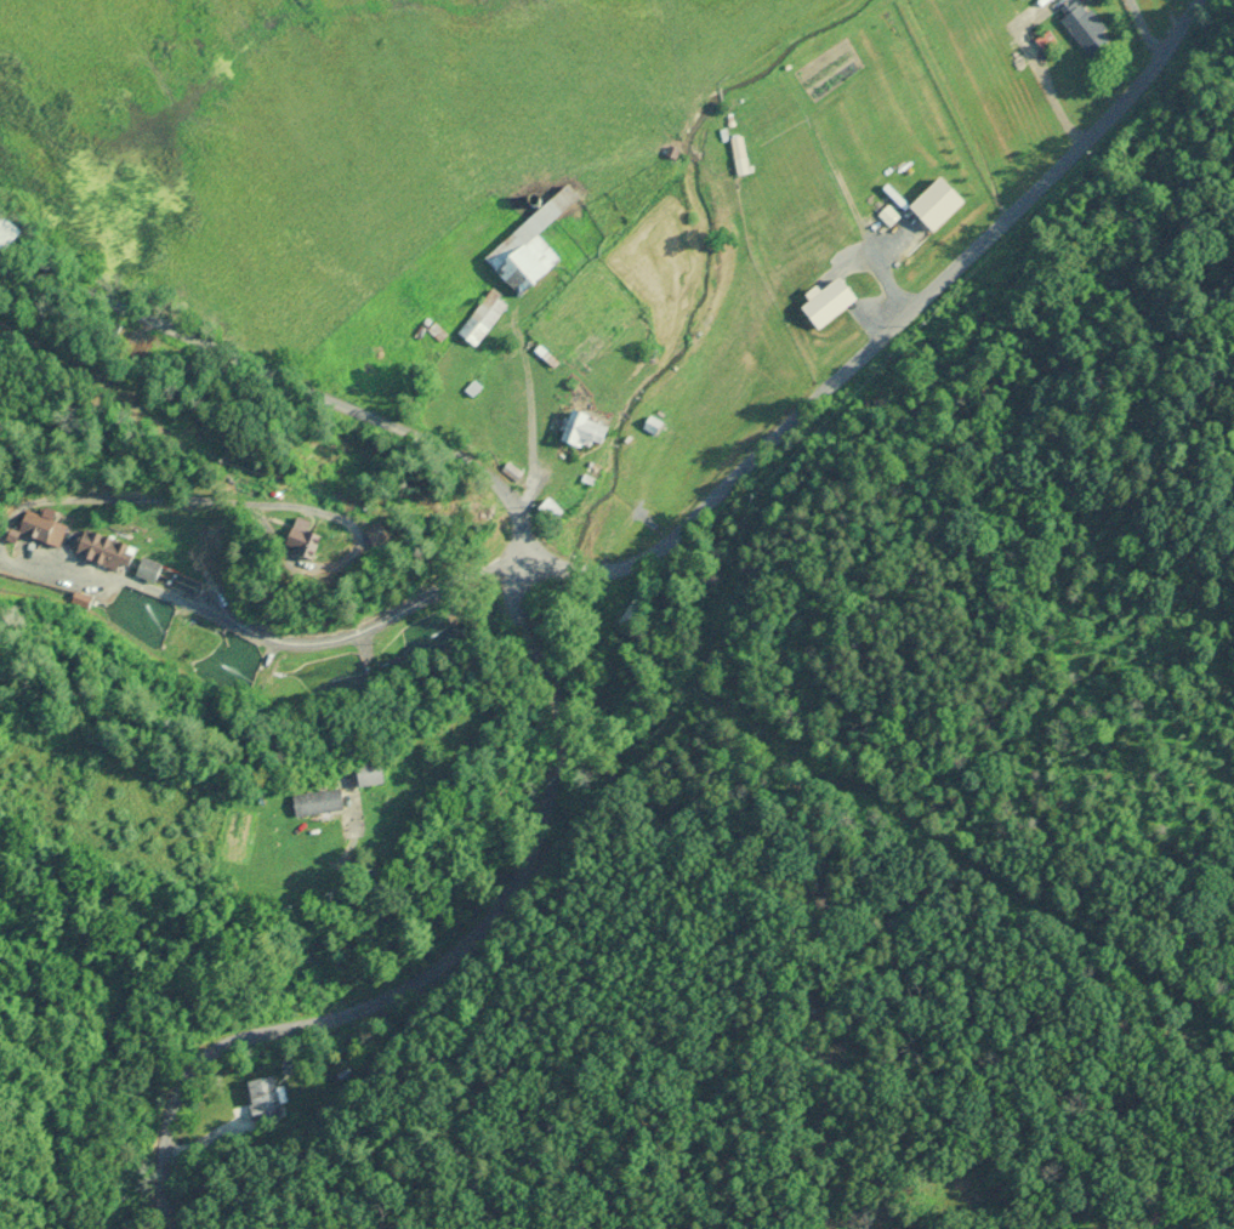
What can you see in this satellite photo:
building: (1087, 27)
building: (940, 205)
building: (8, 231)
building: (538, 246)
building: (835, 302)
building: (488, 318)
road: (900, 328)
road: (289, 379)
building: (591, 429)
building: (558, 510)
building: (42, 533)
building: (325, 537)
road: (283, 632)
building: (380, 773)
building: (325, 802)
road: (432, 954)
road: (249, 967)
building: (265, 1098)

